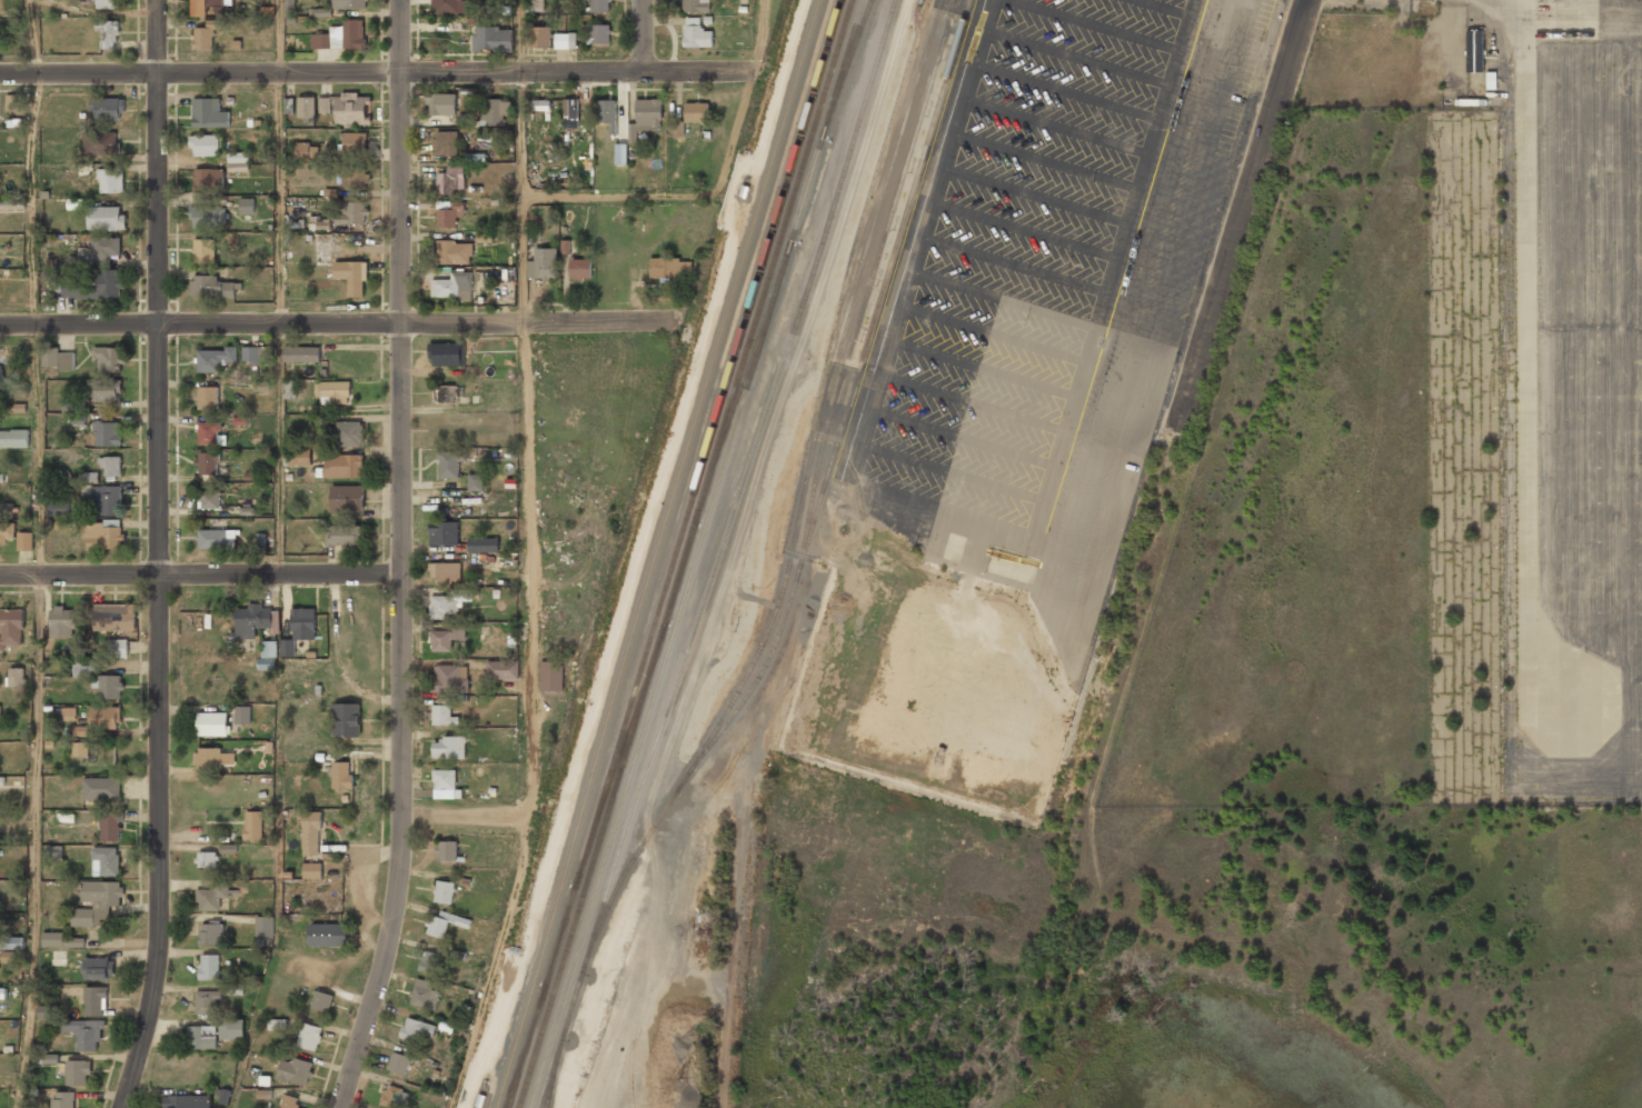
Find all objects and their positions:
building: (109, 3)
building: (349, 3)
building: (205, 6)
building: (451, 6)
building: (535, 6)
building: (596, 6)
building: (696, 6)
building: (289, 8)
building: (597, 32)
building: (108, 33)
building: (340, 34)
building: (696, 34)
road: (641, 36)
road: (279, 37)
building: (539, 37)
road: (763, 37)
building: (202, 38)
building: (492, 38)
building: (565, 40)
building: (1474, 51)
road: (576, 72)
road: (199, 73)
building: (12, 102)
building: (441, 103)
building: (541, 104)
building: (347, 107)
building: (107, 108)
building: (306, 108)
building: (495, 110)
building: (696, 111)
building: (208, 112)
building: (570, 112)
building: (607, 112)
building: (646, 116)
building: (678, 130)
building: (355, 141)
building: (101, 142)
building: (446, 143)
building: (205, 144)
building: (307, 151)
building: (471, 157)
road: (30, 161)
building: (238, 161)
building: (208, 178)
building: (354, 178)
building: (450, 178)
building: (110, 179)
road: (616, 194)
building: (74, 203)
building: (12, 204)
building: (246, 206)
building: (351, 212)
building: (449, 214)
building: (203, 216)
building: (106, 217)
building: (484, 238)
building: (106, 247)
building: (322, 247)
building: (203, 250)
building: (454, 251)
building: (543, 262)
building: (579, 268)
building: (670, 268)
building: (351, 274)
railway: (870, 282)
building: (97, 286)
building: (452, 286)
railway: (788, 286)
building: (210, 287)
road: (536, 321)
road: (200, 325)
road: (280, 325)
building: (250, 352)
building: (303, 352)
building: (446, 353)
building: (109, 358)
building: (217, 358)
building: (60, 359)
road: (1185, 367)
building: (0, 370)
building: (107, 389)
building: (290, 389)
building: (334, 390)
building: (448, 393)
railway: (824, 395)
building: (208, 397)
building: (74, 409)
building: (241, 420)
railway: (757, 426)
building: (108, 431)
building: (349, 431)
building: (209, 432)
building: (13, 438)
road: (37, 449)
building: (299, 457)
building: (208, 463)
building: (450, 463)
building: (111, 465)
building: (344, 465)
building: (89, 477)
building: (475, 481)
building: (105, 498)
building: (347, 498)
railway: (819, 498)
building: (209, 499)
building: (59, 507)
building: (6, 508)
building: (442, 531)
building: (7, 533)
building: (105, 533)
building: (342, 535)
building: (217, 538)
building: (24, 540)
building: (261, 540)
building: (482, 545)
railway: (658, 547)
railway: (675, 553)
railway: (686, 553)
road: (158, 556)
road: (400, 558)
road: (527, 560)
building: (445, 569)
road: (200, 575)
building: (445, 605)
building: (113, 617)
building: (251, 618)
building: (63, 620)
building: (302, 622)
building: (11, 627)
building: (445, 637)
building: (288, 647)
building: (118, 648)
building: (268, 655)
building: (84, 669)
building: (502, 669)
building: (16, 676)
building: (450, 676)
building: (551, 676)
building: (108, 685)
building: (0, 712)
building: (69, 713)
building: (441, 713)
building: (242, 715)
building: (105, 716)
building: (346, 719)
building: (211, 723)
building: (80, 730)
railway: (657, 738)
building: (448, 748)
building: (80, 749)
building: (212, 757)
railway: (617, 763)
building: (342, 772)
building: (444, 779)
building: (2, 782)
building: (101, 787)
road: (462, 817)
building: (111, 825)
building: (253, 825)
building: (311, 832)
road: (36, 841)
building: (228, 848)
building: (447, 850)
building: (53, 851)
building: (206, 858)
building: (106, 860)
building: (311, 870)
building: (445, 891)
building: (209, 897)
building: (97, 900)
building: (442, 922)
building: (265, 926)
building: (211, 932)
building: (328, 934)
building: (52, 937)
building: (12, 942)
building: (430, 960)
building: (209, 965)
building: (97, 967)
building: (425, 991)
building: (1, 992)
building: (96, 1000)
building: (321, 1000)
building: (207, 1001)
building: (48, 1011)
building: (277, 1024)
building: (416, 1027)
building: (231, 1028)
railway: (554, 1030)
building: (84, 1032)
building: (201, 1036)
building: (310, 1036)
building: (50, 1058)
building: (399, 1061)
building: (295, 1069)
building: (77, 1071)
railway: (536, 1088)
building: (394, 1096)
building: (62, 1099)
railway: (495, 1100)
building: (187, 1101)
building: (289, 1101)

